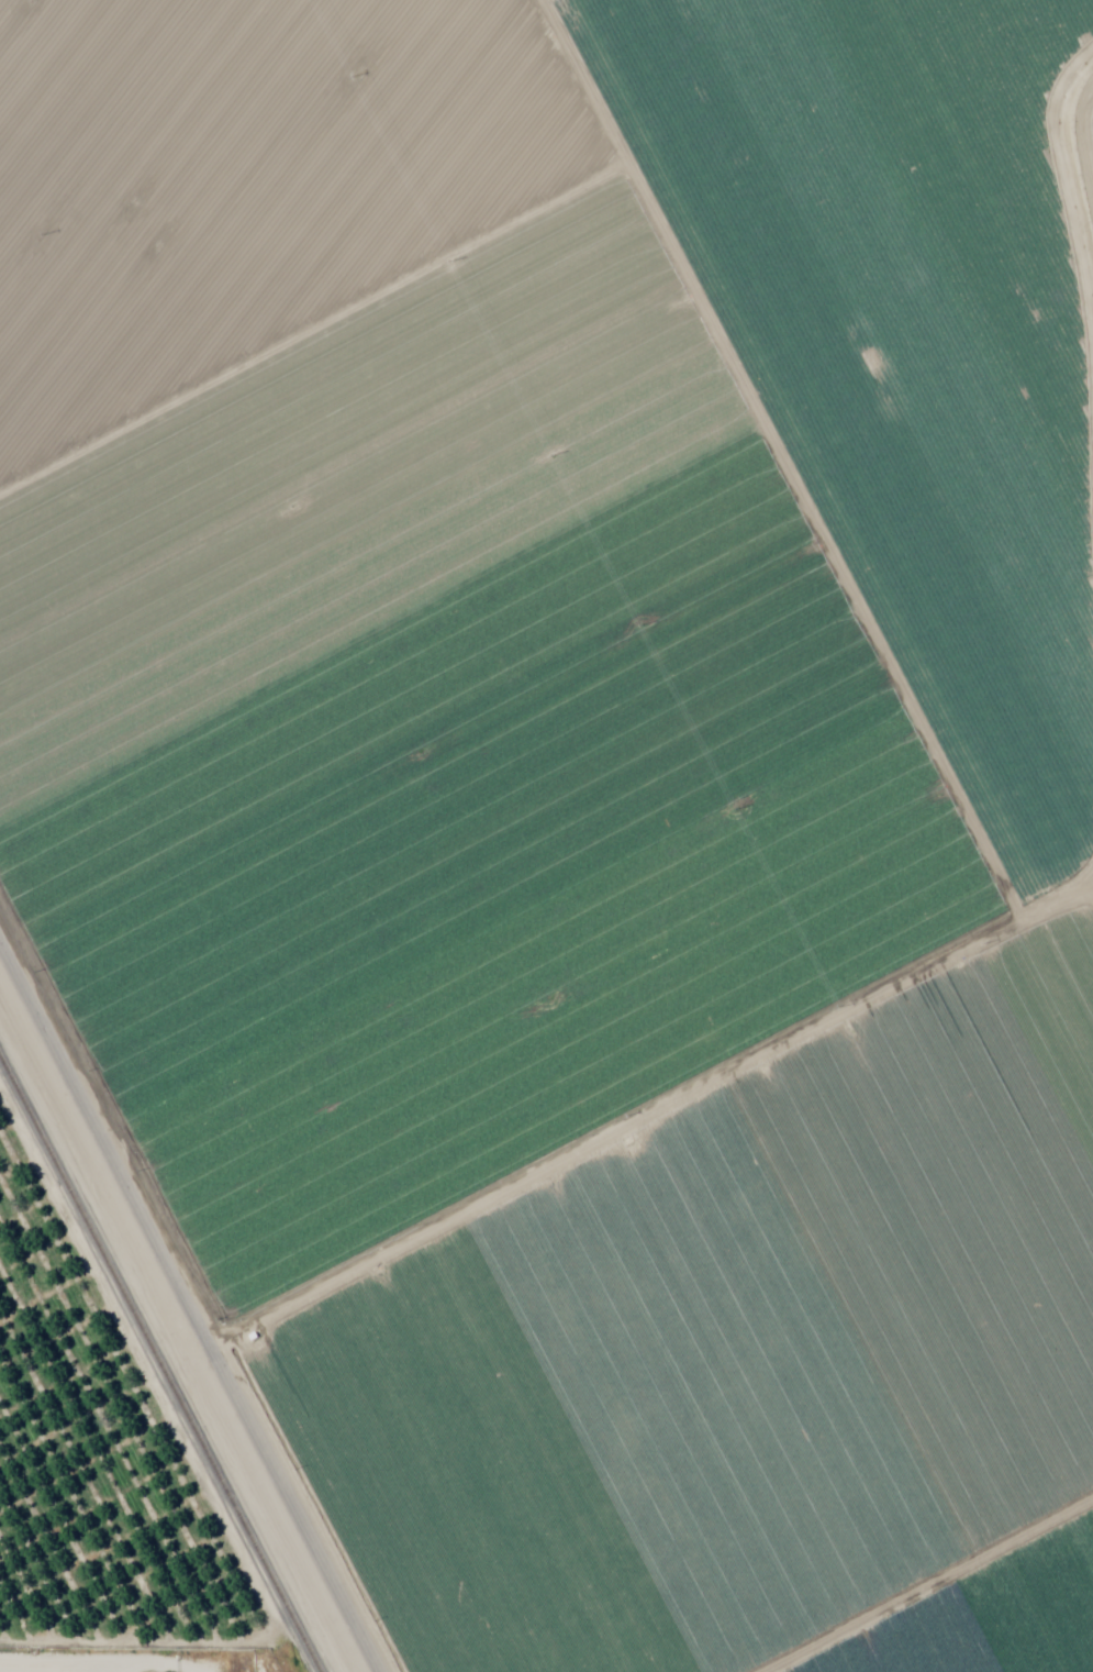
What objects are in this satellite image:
road: (824, 481)
crop: (578, 791)
road: (642, 1133)
road: (192, 1296)
railway: (157, 1368)
road: (915, 1650)
road: (54, 1668)
road: (77, 1670)

